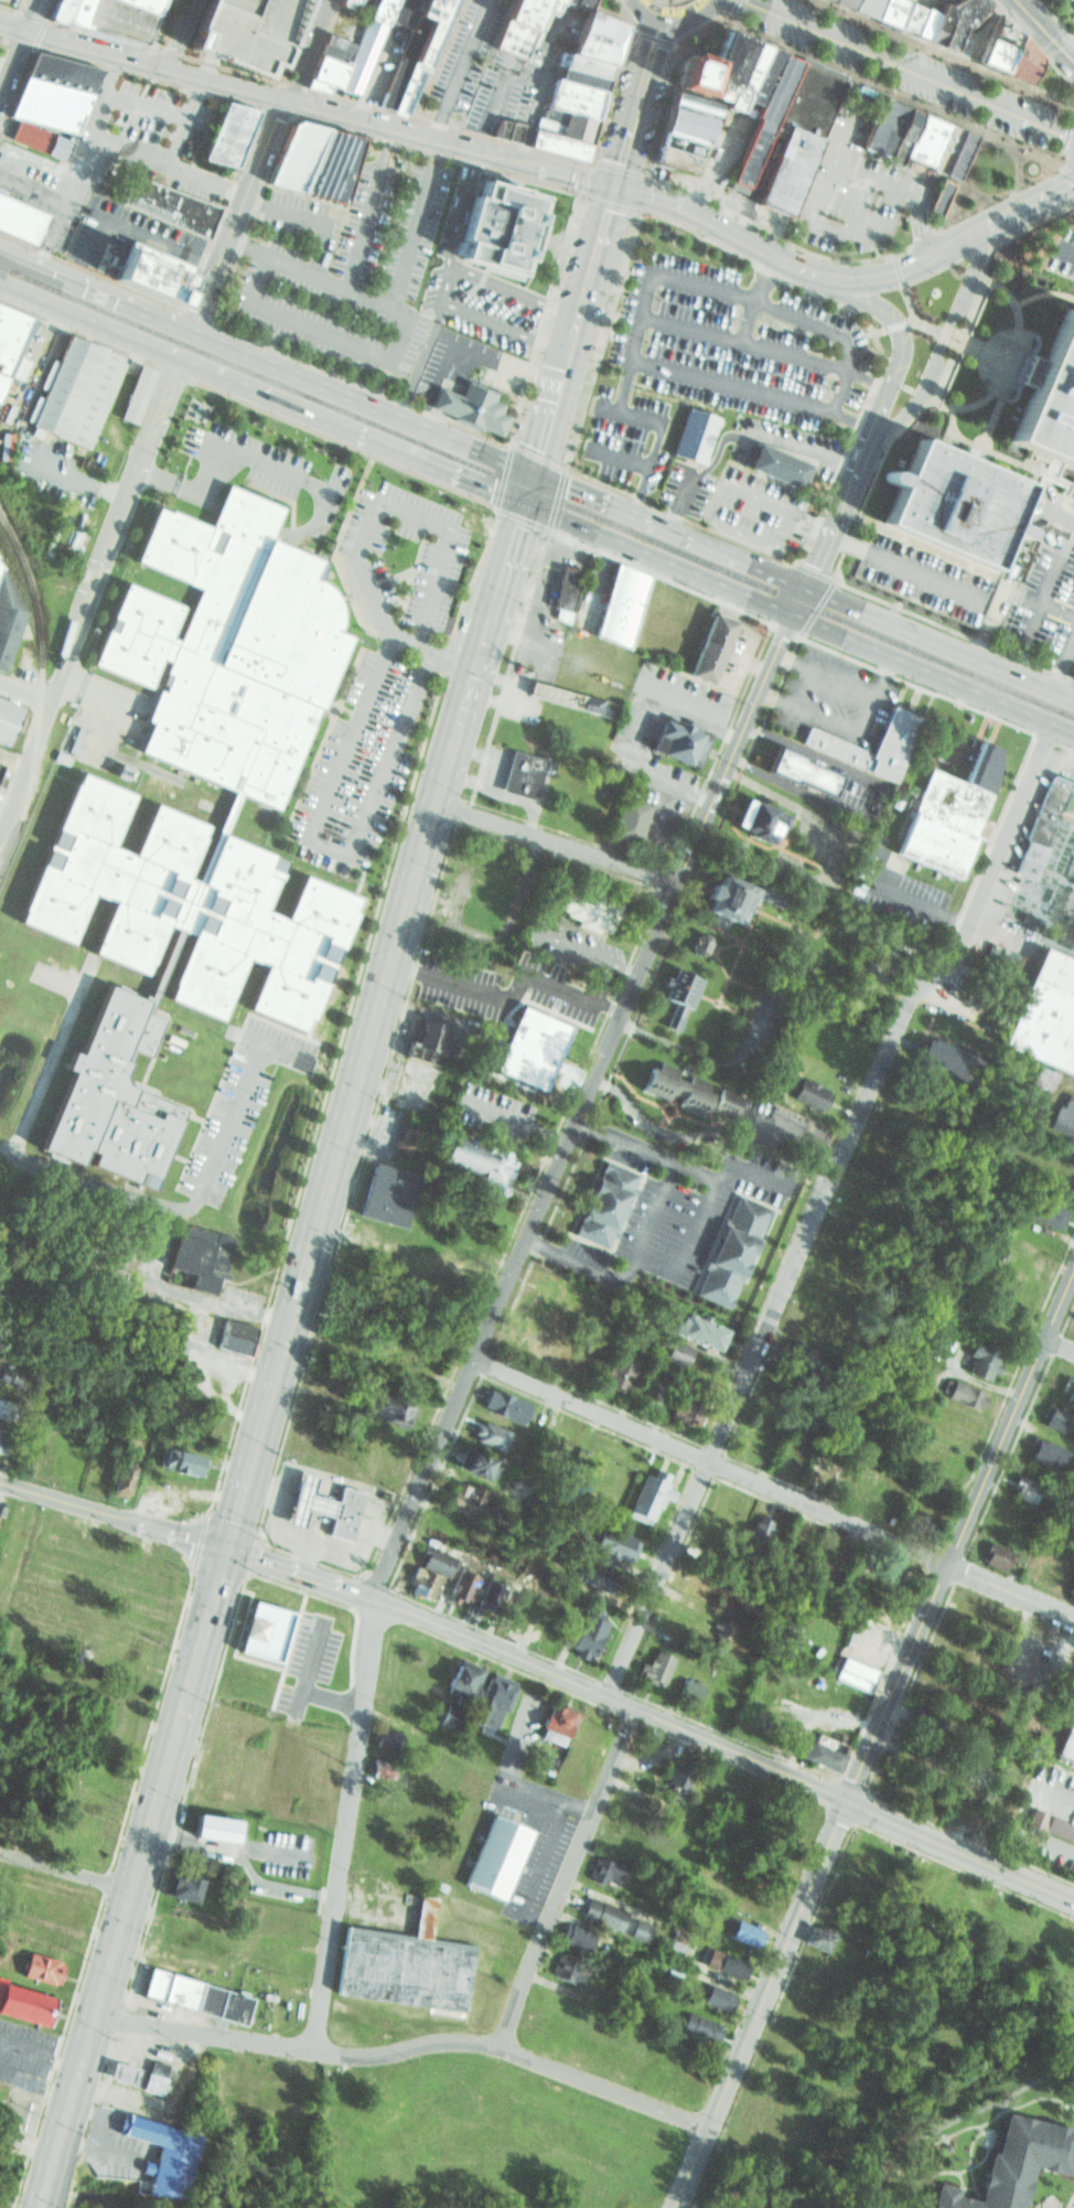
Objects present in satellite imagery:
road: (670, 0)
building: (838, 1)
building: (351, 3)
building: (578, 3)
building: (148, 4)
building: (554, 4)
building: (857, 4)
road: (23, 7)
building: (882, 9)
building: (384, 10)
road: (728, 11)
building: (407, 12)
road: (31, 14)
building: (905, 15)
park: (660, 17)
road: (669, 17)
building: (108, 18)
building: (938, 18)
road: (1055, 19)
building: (520, 26)
building: (244, 31)
parking garage: (244, 31)
road: (182, 33)
road: (1043, 33)
road: (39, 35)
building: (971, 37)
building: (597, 39)
road: (649, 39)
road: (291, 42)
building: (342, 43)
road: (1030, 45)
park: (3, 47)
road: (304, 49)
road: (3, 50)
building: (423, 51)
building: (336, 54)
building: (363, 54)
road: (942, 54)
building: (1012, 54)
road: (12, 60)
road: (439, 61)
building: (405, 63)
road: (155, 65)
building: (589, 66)
road: (461, 67)
road: (909, 67)
building: (720, 68)
road: (3, 69)
building: (330, 72)
building: (680, 72)
road: (110, 73)
building: (749, 77)
building: (583, 79)
building: (320, 86)
building: (578, 92)
road: (193, 96)
road: (538, 99)
road: (637, 101)
road: (307, 104)
building: (51, 105)
building: (574, 106)
building: (690, 109)
road: (377, 111)
building: (750, 116)
building: (570, 119)
road: (183, 120)
building: (766, 120)
building: (686, 129)
building: (566, 130)
building: (509, 131)
building: (232, 135)
building: (791, 135)
road: (1063, 138)
building: (917, 139)
building: (561, 144)
building: (679, 151)
road: (245, 153)
building: (298, 157)
road: (588, 164)
road: (54, 165)
building: (334, 167)
road: (1062, 168)
road: (205, 180)
road: (819, 182)
building: (942, 197)
building: (169, 205)
road: (364, 206)
road: (60, 210)
road: (654, 217)
building: (18, 218)
road: (309, 221)
road: (847, 221)
road: (416, 224)
building: (502, 227)
road: (232, 228)
road: (914, 228)
road: (140, 233)
road: (928, 233)
road: (246, 250)
road: (1066, 250)
building: (157, 272)
road: (845, 278)
road: (439, 280)
road: (976, 280)
road: (895, 286)
road: (751, 292)
road: (1006, 298)
road: (925, 328)
road: (241, 331)
road: (79, 332)
road: (996, 332)
building: (10, 337)
road: (741, 339)
road: (935, 342)
road: (569, 343)
road: (486, 357)
road: (387, 362)
road: (265, 363)
road: (176, 374)
road: (864, 380)
road: (622, 385)
road: (719, 385)
building: (78, 392)
road: (260, 392)
building: (139, 395)
building: (1052, 403)
building: (474, 407)
road: (848, 420)
road: (733, 427)
building: (695, 436)
road: (652, 442)
road: (346, 444)
road: (538, 455)
parking lot: (259, 467)
building: (781, 467)
road: (79, 474)
road: (290, 474)
road: (503, 475)
road: (181, 491)
road: (638, 492)
railway: (536, 493)
road: (557, 499)
building: (957, 505)
road: (249, 518)
road: (524, 519)
road: (710, 519)
road: (809, 521)
road: (372, 524)
road: (900, 567)
road: (837, 568)
road: (814, 569)
road: (663, 577)
building: (559, 586)
road: (802, 588)
road: (1041, 596)
road: (88, 598)
building: (621, 604)
road: (819, 607)
road: (1056, 610)
building: (7, 613)
road: (798, 617)
road: (788, 630)
building: (227, 644)
building: (704, 645)
road: (1070, 656)
parking lot: (387, 663)
road: (1061, 663)
road: (508, 664)
road: (917, 685)
railway: (42, 688)
road: (25, 689)
building: (559, 693)
road: (112, 697)
building: (4, 712)
building: (672, 737)
road: (1045, 737)
road: (722, 742)
building: (864, 742)
road: (1065, 744)
building: (1, 768)
building: (793, 768)
building: (518, 772)
building: (946, 811)
road: (464, 812)
building: (750, 816)
building: (629, 818)
building: (1046, 825)
road: (556, 844)
road: (333, 845)
road: (660, 871)
building: (717, 894)
road: (922, 900)
building: (579, 902)
building: (192, 907)
building: (692, 941)
building: (702, 944)
road: (527, 954)
building: (1008, 958)
road: (443, 983)
building: (676, 984)
building: (1042, 1010)
road: (346, 1019)
building: (669, 1019)
building: (676, 1022)
building: (421, 1032)
building: (524, 1047)
building: (934, 1052)
building: (1039, 1078)
building: (417, 1083)
building: (684, 1085)
building: (806, 1092)
building: (116, 1098)
building: (1062, 1115)
road: (514, 1125)
building: (406, 1140)
road: (624, 1143)
road: (570, 1145)
building: (462, 1153)
building: (382, 1191)
road: (198, 1194)
building: (599, 1202)
road: (818, 1203)
building: (1043, 1210)
building: (727, 1248)
building: (191, 1256)
road: (586, 1267)
road: (672, 1273)
road: (228, 1307)
road: (6, 1325)
building: (700, 1330)
building: (230, 1333)
road: (283, 1341)
road: (1059, 1347)
building: (673, 1352)
building: (797, 1353)
building: (400, 1360)
building: (978, 1361)
building: (621, 1372)
building: (13, 1378)
road: (204, 1378)
building: (1064, 1386)
building: (959, 1394)
building: (503, 1403)
building: (687, 1404)
building: (10, 1407)
building: (385, 1410)
building: (1054, 1417)
building: (490, 1437)
building: (3, 1440)
building: (1042, 1450)
building: (3, 1456)
building: (176, 1460)
building: (471, 1461)
road: (712, 1465)
building: (823, 1469)
building: (123, 1479)
building: (1025, 1489)
road: (181, 1490)
road: (265, 1491)
building: (651, 1496)
building: (308, 1500)
building: (461, 1500)
road: (112, 1513)
building: (347, 1513)
building: (1005, 1516)
road: (313, 1525)
building: (759, 1533)
road: (959, 1535)
road: (385, 1536)
road: (202, 1540)
building: (612, 1543)
traffic signals: (225, 1550)
road: (319, 1551)
building: (991, 1553)
building: (432, 1555)
building: (590, 1571)
building: (420, 1583)
building: (462, 1586)
road: (1010, 1593)
building: (487, 1597)
building: (265, 1629)
building: (582, 1631)
building: (655, 1664)
road: (311, 1666)
building: (853, 1671)
building: (459, 1678)
building: (686, 1690)
road: (332, 1701)
building: (490, 1701)
building: (449, 1715)
road: (653, 1716)
building: (931, 1717)
building: (552, 1719)
building: (385, 1735)
building: (1065, 1738)
building: (818, 1751)
building: (377, 1766)
building: (679, 1771)
road: (1059, 1794)
building: (0, 1810)
road: (576, 1811)
building: (212, 1823)
building: (659, 1825)
building: (1044, 1825)
road: (548, 1836)
road: (1061, 1848)
building: (492, 1856)
road: (243, 1861)
road: (110, 1863)
building: (600, 1866)
building: (916, 1868)
road: (64, 1869)
road: (568, 1874)
building: (178, 1883)
building: (952, 1883)
building: (438, 1885)
building: (610, 1917)
road: (531, 1922)
building: (742, 1929)
building: (577, 1934)
building: (819, 1936)
building: (672, 1942)
building: (726, 1961)
building: (400, 1962)
building: (39, 1963)
building: (568, 1966)
building: (190, 1991)
building: (23, 1995)
building: (715, 1995)
road: (760, 2005)
building: (698, 2027)
road: (163, 2029)
road: (40, 2046)
road: (272, 2046)
road: (514, 2052)
building: (126, 2073)
building: (153, 2077)
road: (35, 2079)
river: (931, 2093)
building: (158, 2153)
building: (1005, 2159)
road: (19, 2185)
road: (43, 2191)
road: (14, 2201)
road: (39, 2204)

